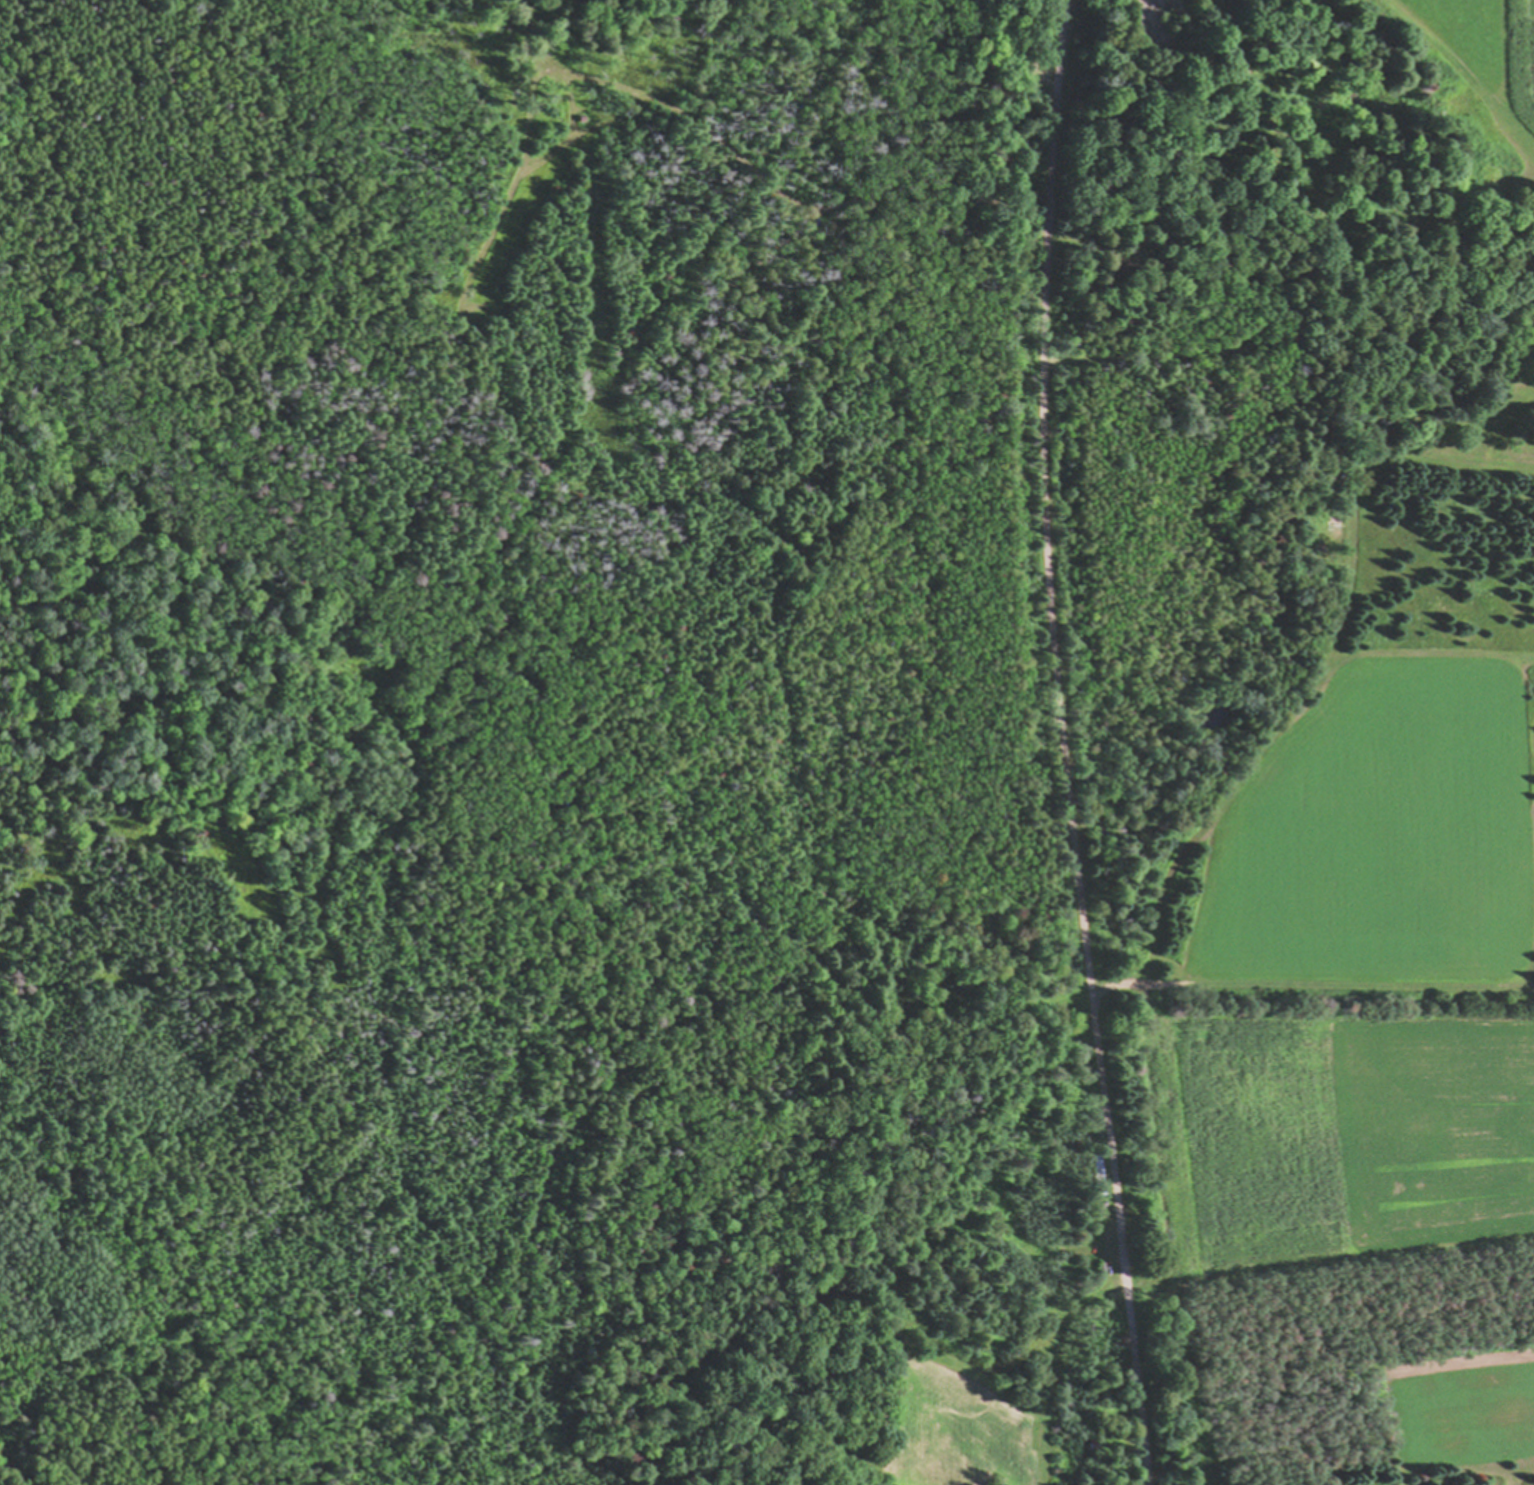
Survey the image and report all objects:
road: (1059, 743)

